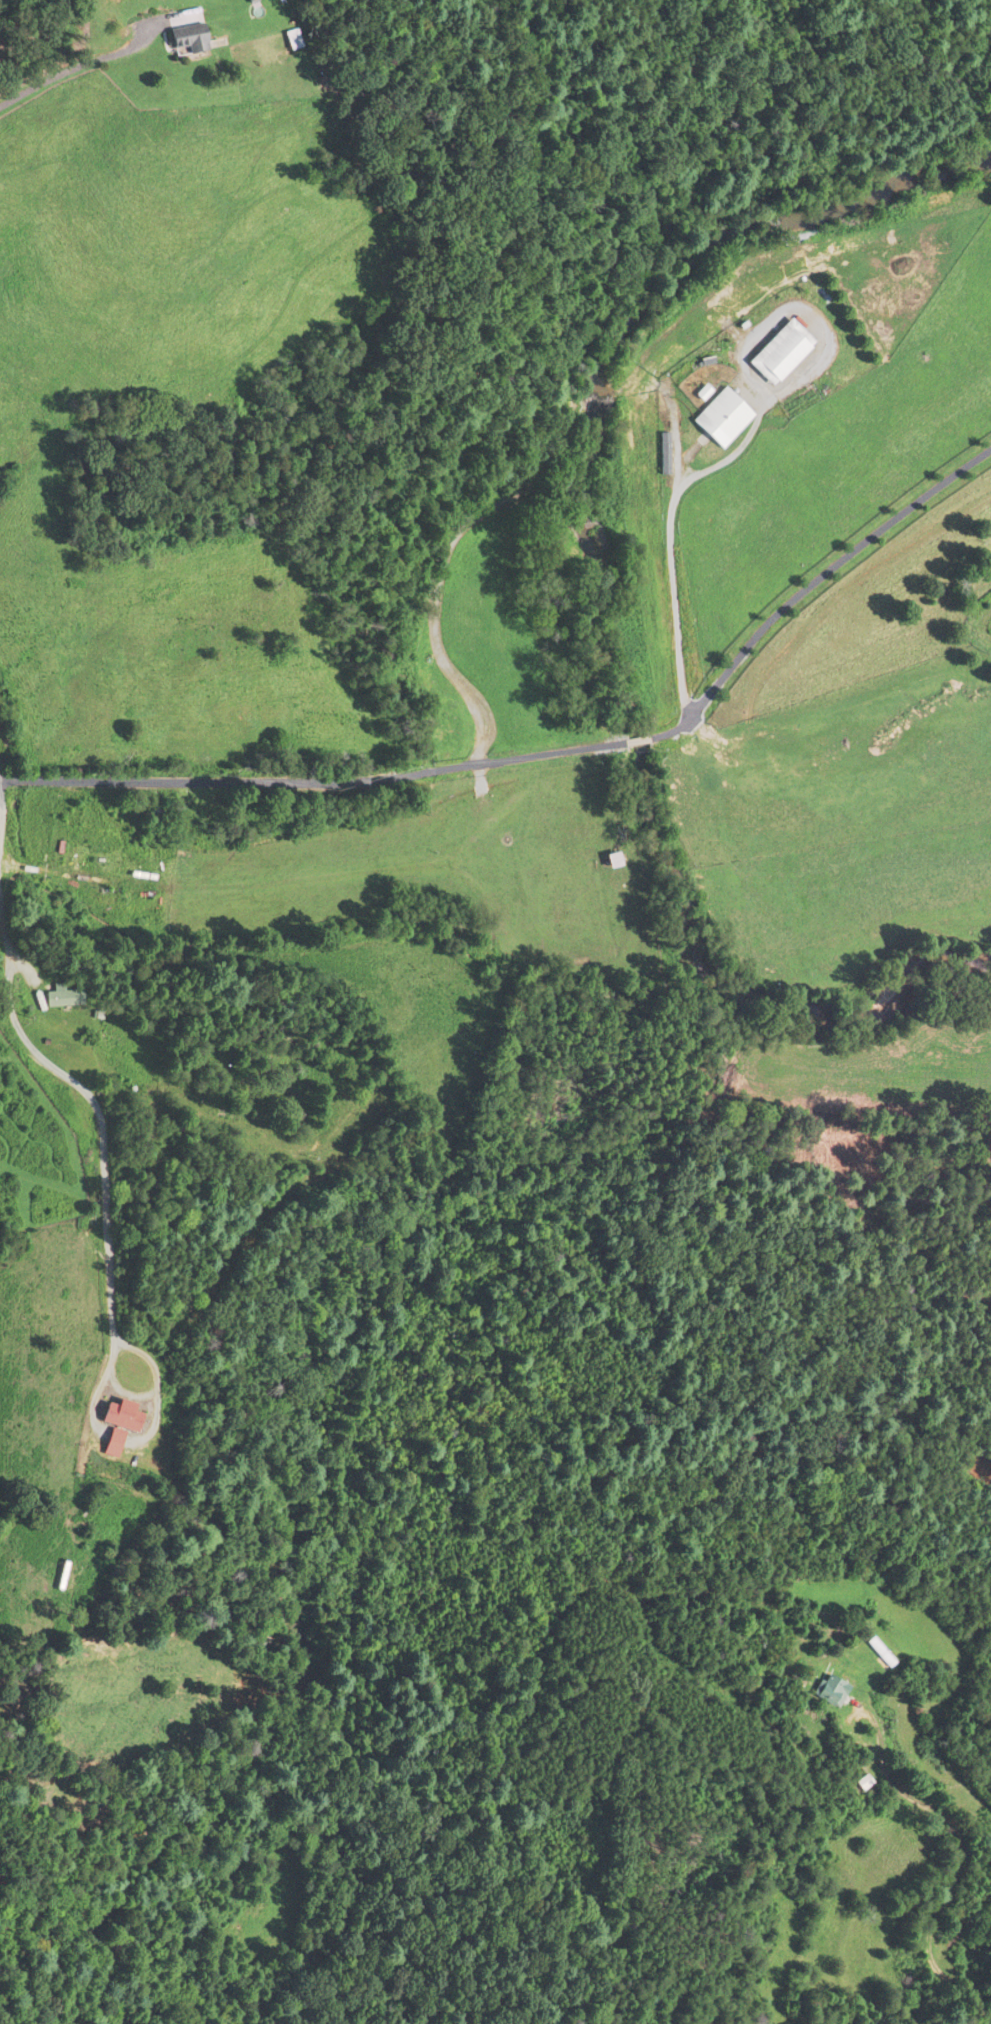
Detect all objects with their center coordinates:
building: (186, 38)
road: (70, 70)
building: (777, 353)
building: (720, 419)
road: (739, 443)
river: (589, 460)
road: (811, 581)
road: (631, 740)
road: (517, 756)
road: (213, 781)
building: (198, 804)
building: (163, 817)
building: (612, 870)
river: (861, 990)
building: (62, 998)
road: (100, 1126)
road: (150, 1352)
building: (126, 1416)
building: (63, 1575)
building: (881, 1654)
building: (831, 1690)
building: (865, 1782)
road: (954, 1866)

